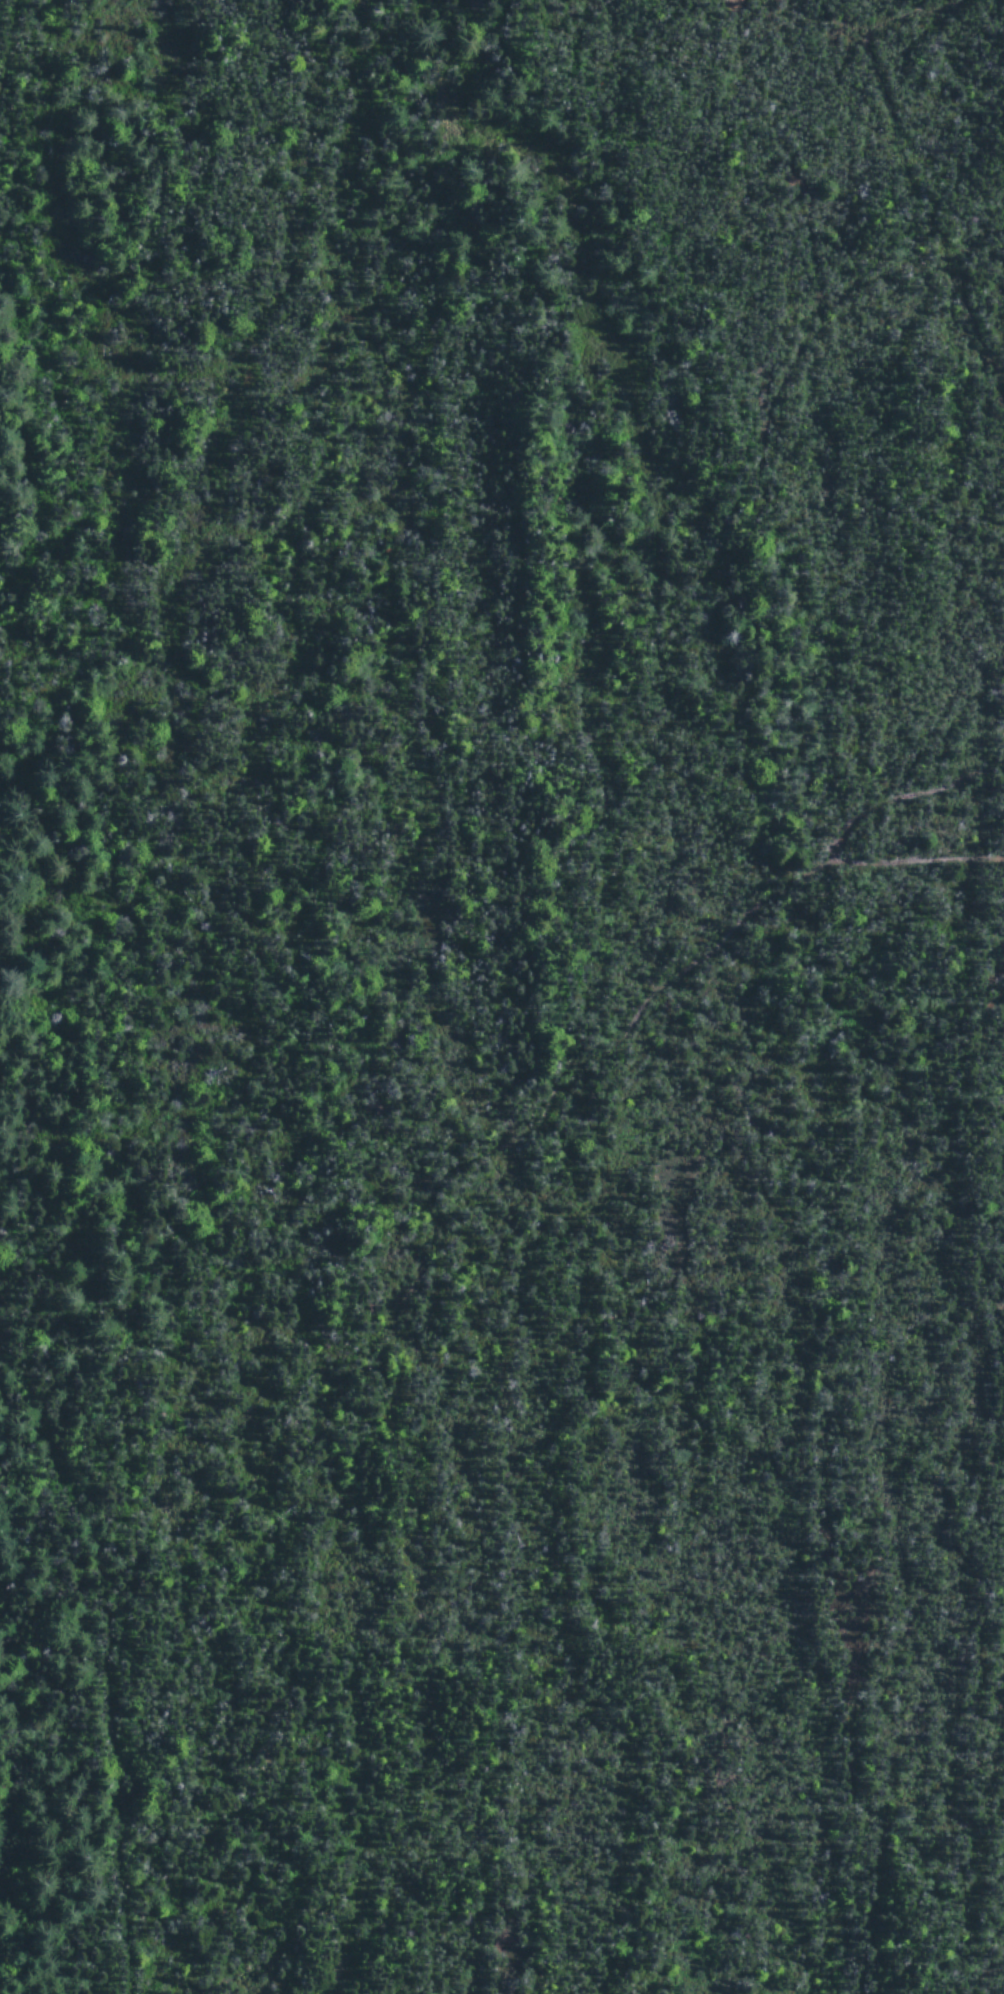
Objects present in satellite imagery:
airport: (942, 175)

